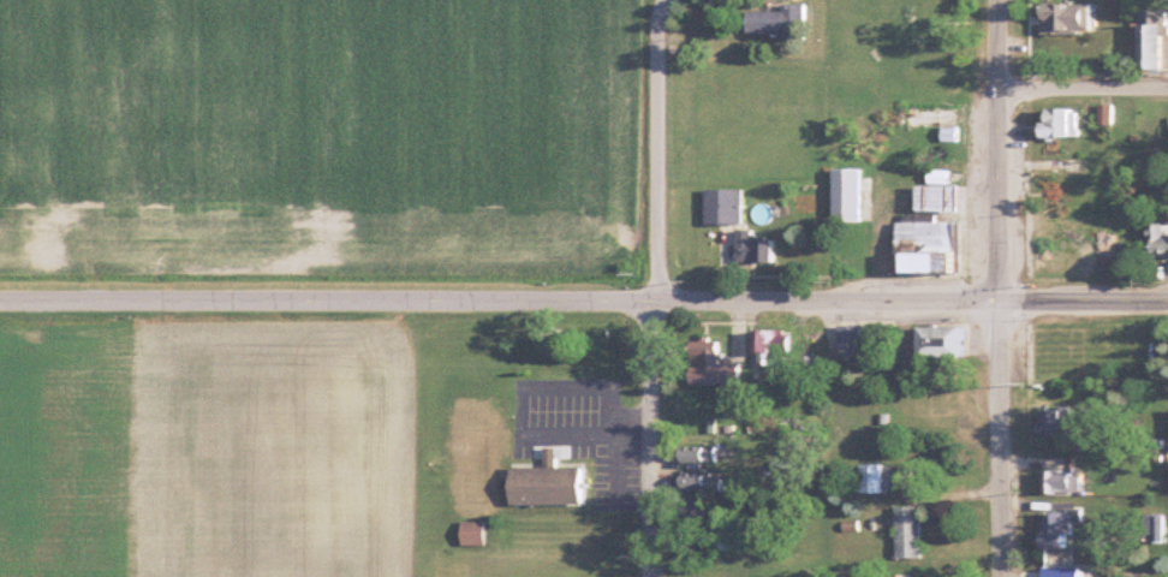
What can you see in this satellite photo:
building: (1077, 16)
building: (779, 19)
building: (1156, 38)
road: (1083, 91)
building: (1109, 113)
building: (902, 117)
building: (1065, 123)
building: (953, 132)
road: (660, 153)
building: (1081, 179)
building: (947, 192)
building: (854, 194)
building: (727, 206)
building: (1163, 239)
building: (756, 246)
building: (934, 248)
road: (999, 288)
road: (329, 307)
road: (829, 307)
road: (1083, 307)
building: (854, 340)
building: (953, 341)
building: (770, 347)
building: (717, 367)
building: (1075, 423)
road: (657, 441)
building: (708, 454)
building: (875, 478)
building: (703, 480)
building: (555, 482)
building: (710, 525)
building: (1063, 530)
building: (477, 531)
building: (913, 531)
building: (1068, 571)

